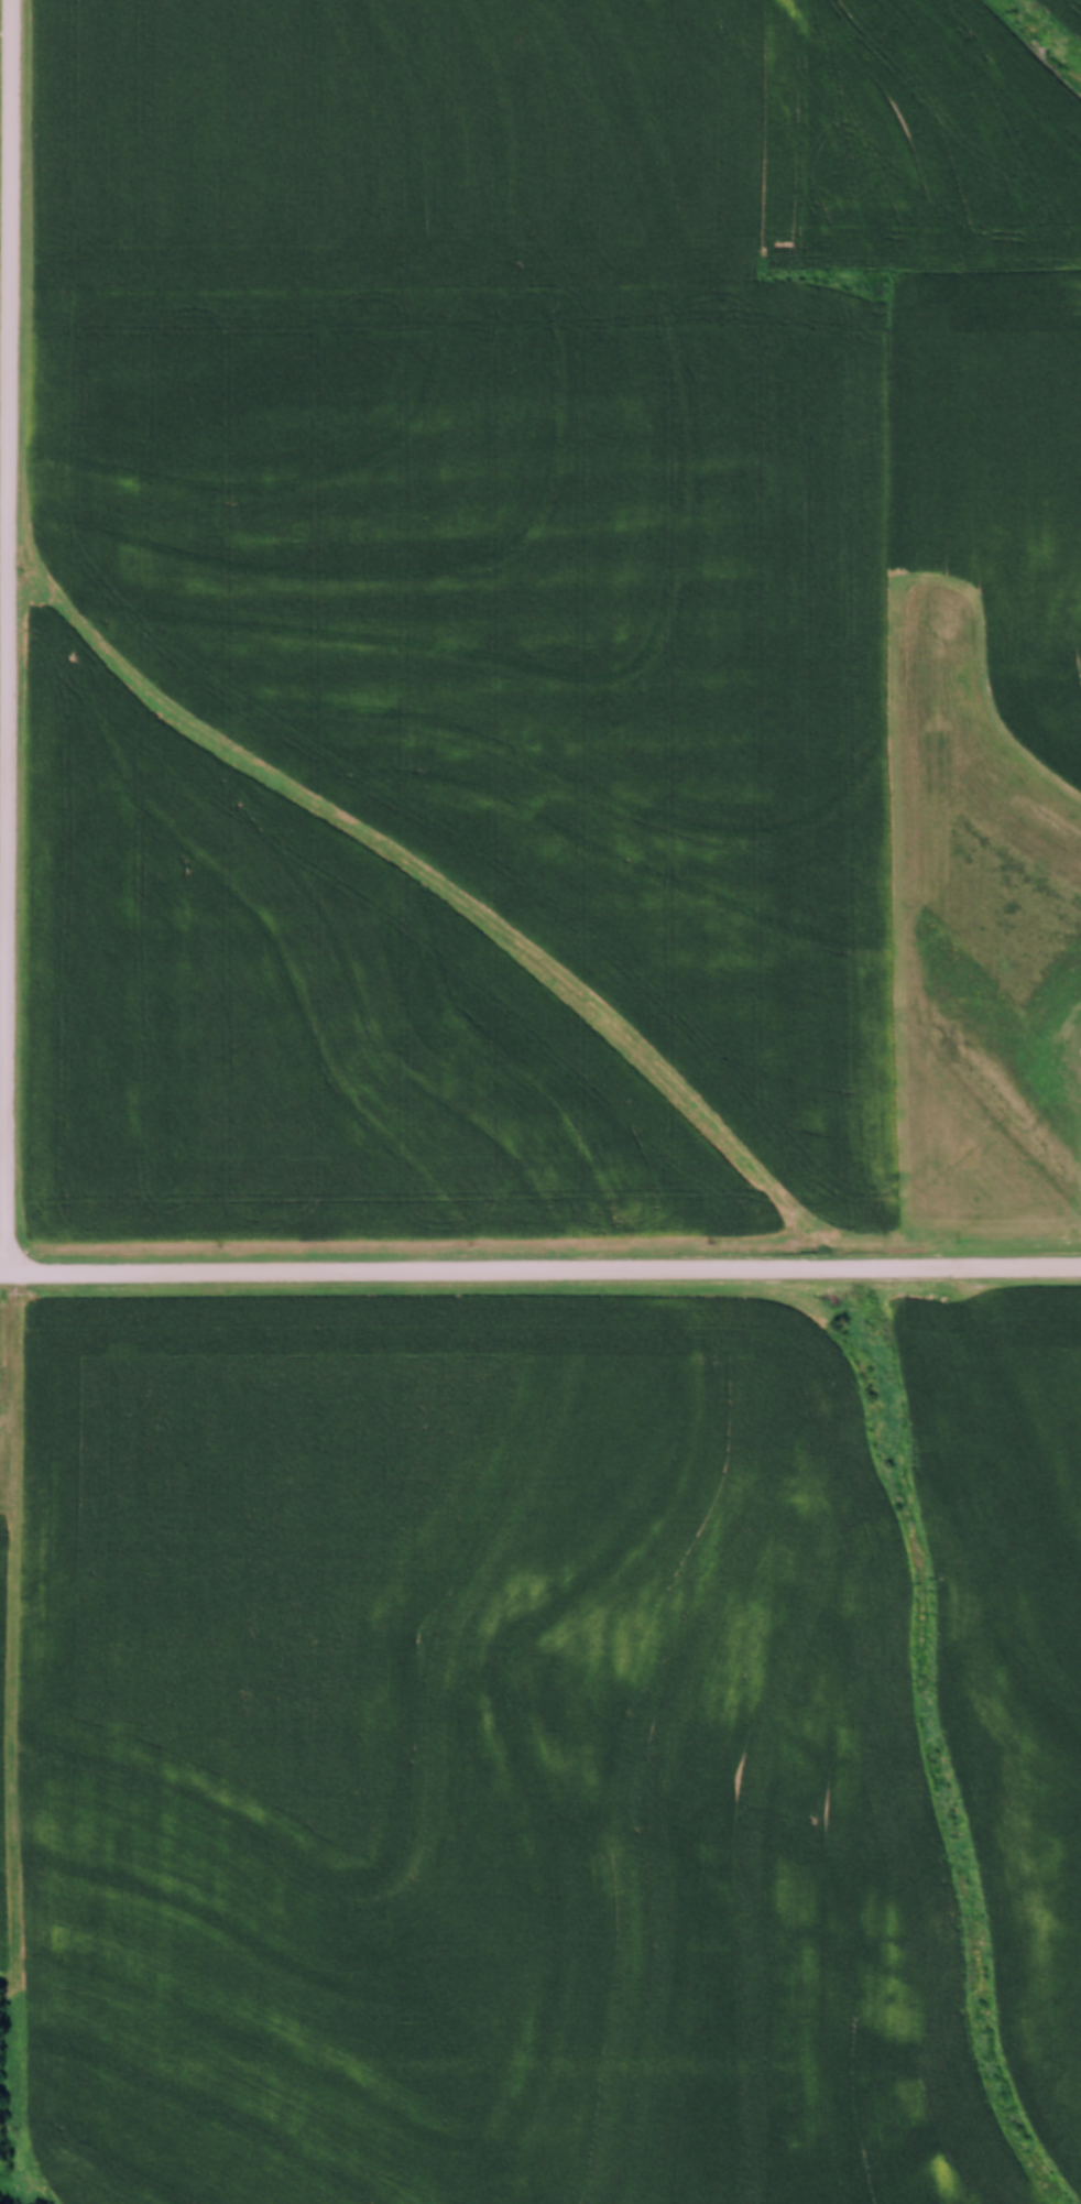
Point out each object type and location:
building: (8, 94)
road: (9, 637)
road: (539, 1272)

